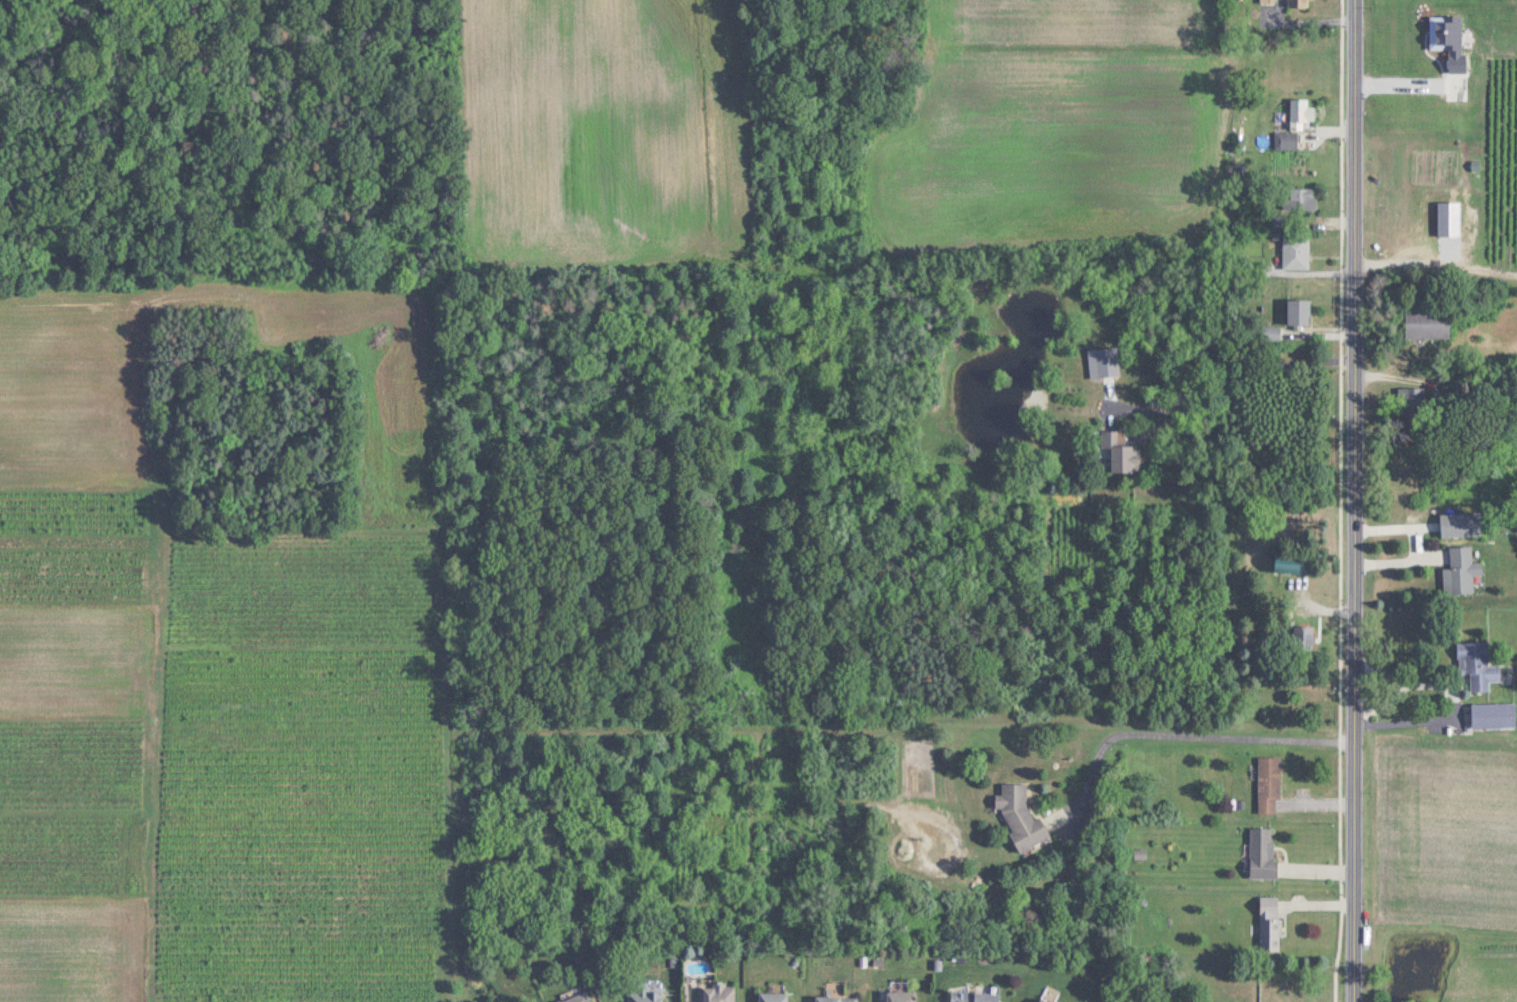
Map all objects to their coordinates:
building: (1268, 0)
building: (1298, 3)
road: (1412, 84)
building: (1301, 114)
building: (1288, 139)
building: (1302, 198)
building: (1295, 251)
building: (1297, 312)
building: (1427, 324)
road: (1248, 380)
building: (1119, 451)
road: (1360, 501)
building: (1460, 524)
road: (1415, 541)
building: (1289, 563)
building: (1461, 571)
building: (1477, 665)
road: (1452, 696)
road: (1385, 699)
building: (1493, 715)
road: (1203, 734)
building: (1268, 785)
building: (1019, 816)
building: (1262, 852)
building: (1269, 926)
building: (715, 993)
building: (643, 994)
building: (898, 996)
building: (973, 996)
building: (772, 997)
building: (577, 998)
building: (835, 998)
building: (1043, 999)

